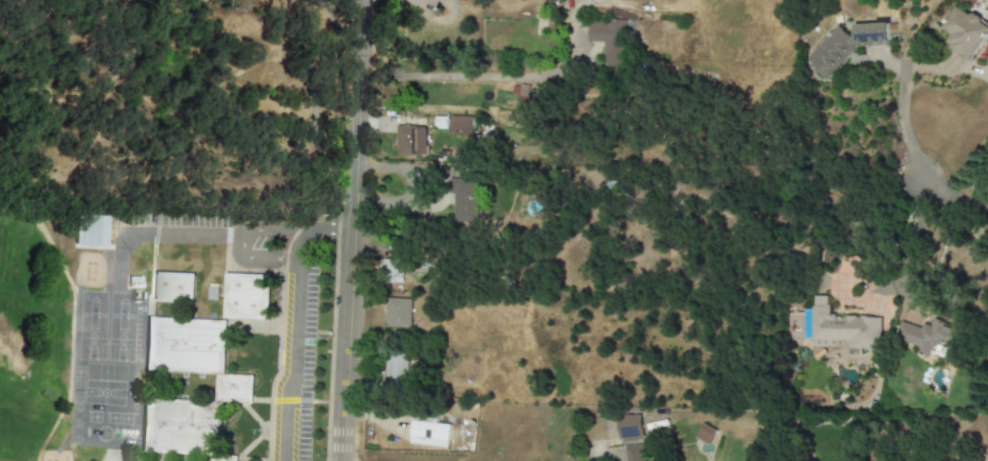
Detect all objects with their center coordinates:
building: (539, 22)
building: (965, 33)
building: (611, 39)
building: (845, 45)
building: (987, 60)
road: (488, 76)
road: (317, 103)
building: (460, 125)
building: (411, 140)
park: (147, 147)
road: (915, 157)
building: (465, 201)
road: (351, 230)
building: (89, 231)
road: (178, 233)
road: (913, 236)
road: (241, 239)
building: (390, 271)
building: (173, 287)
building: (213, 293)
building: (246, 296)
building: (398, 313)
road: (293, 321)
building: (840, 328)
building: (930, 339)
building: (396, 373)
building: (234, 387)
building: (630, 426)
building: (429, 434)
building: (705, 434)
building: (634, 453)

